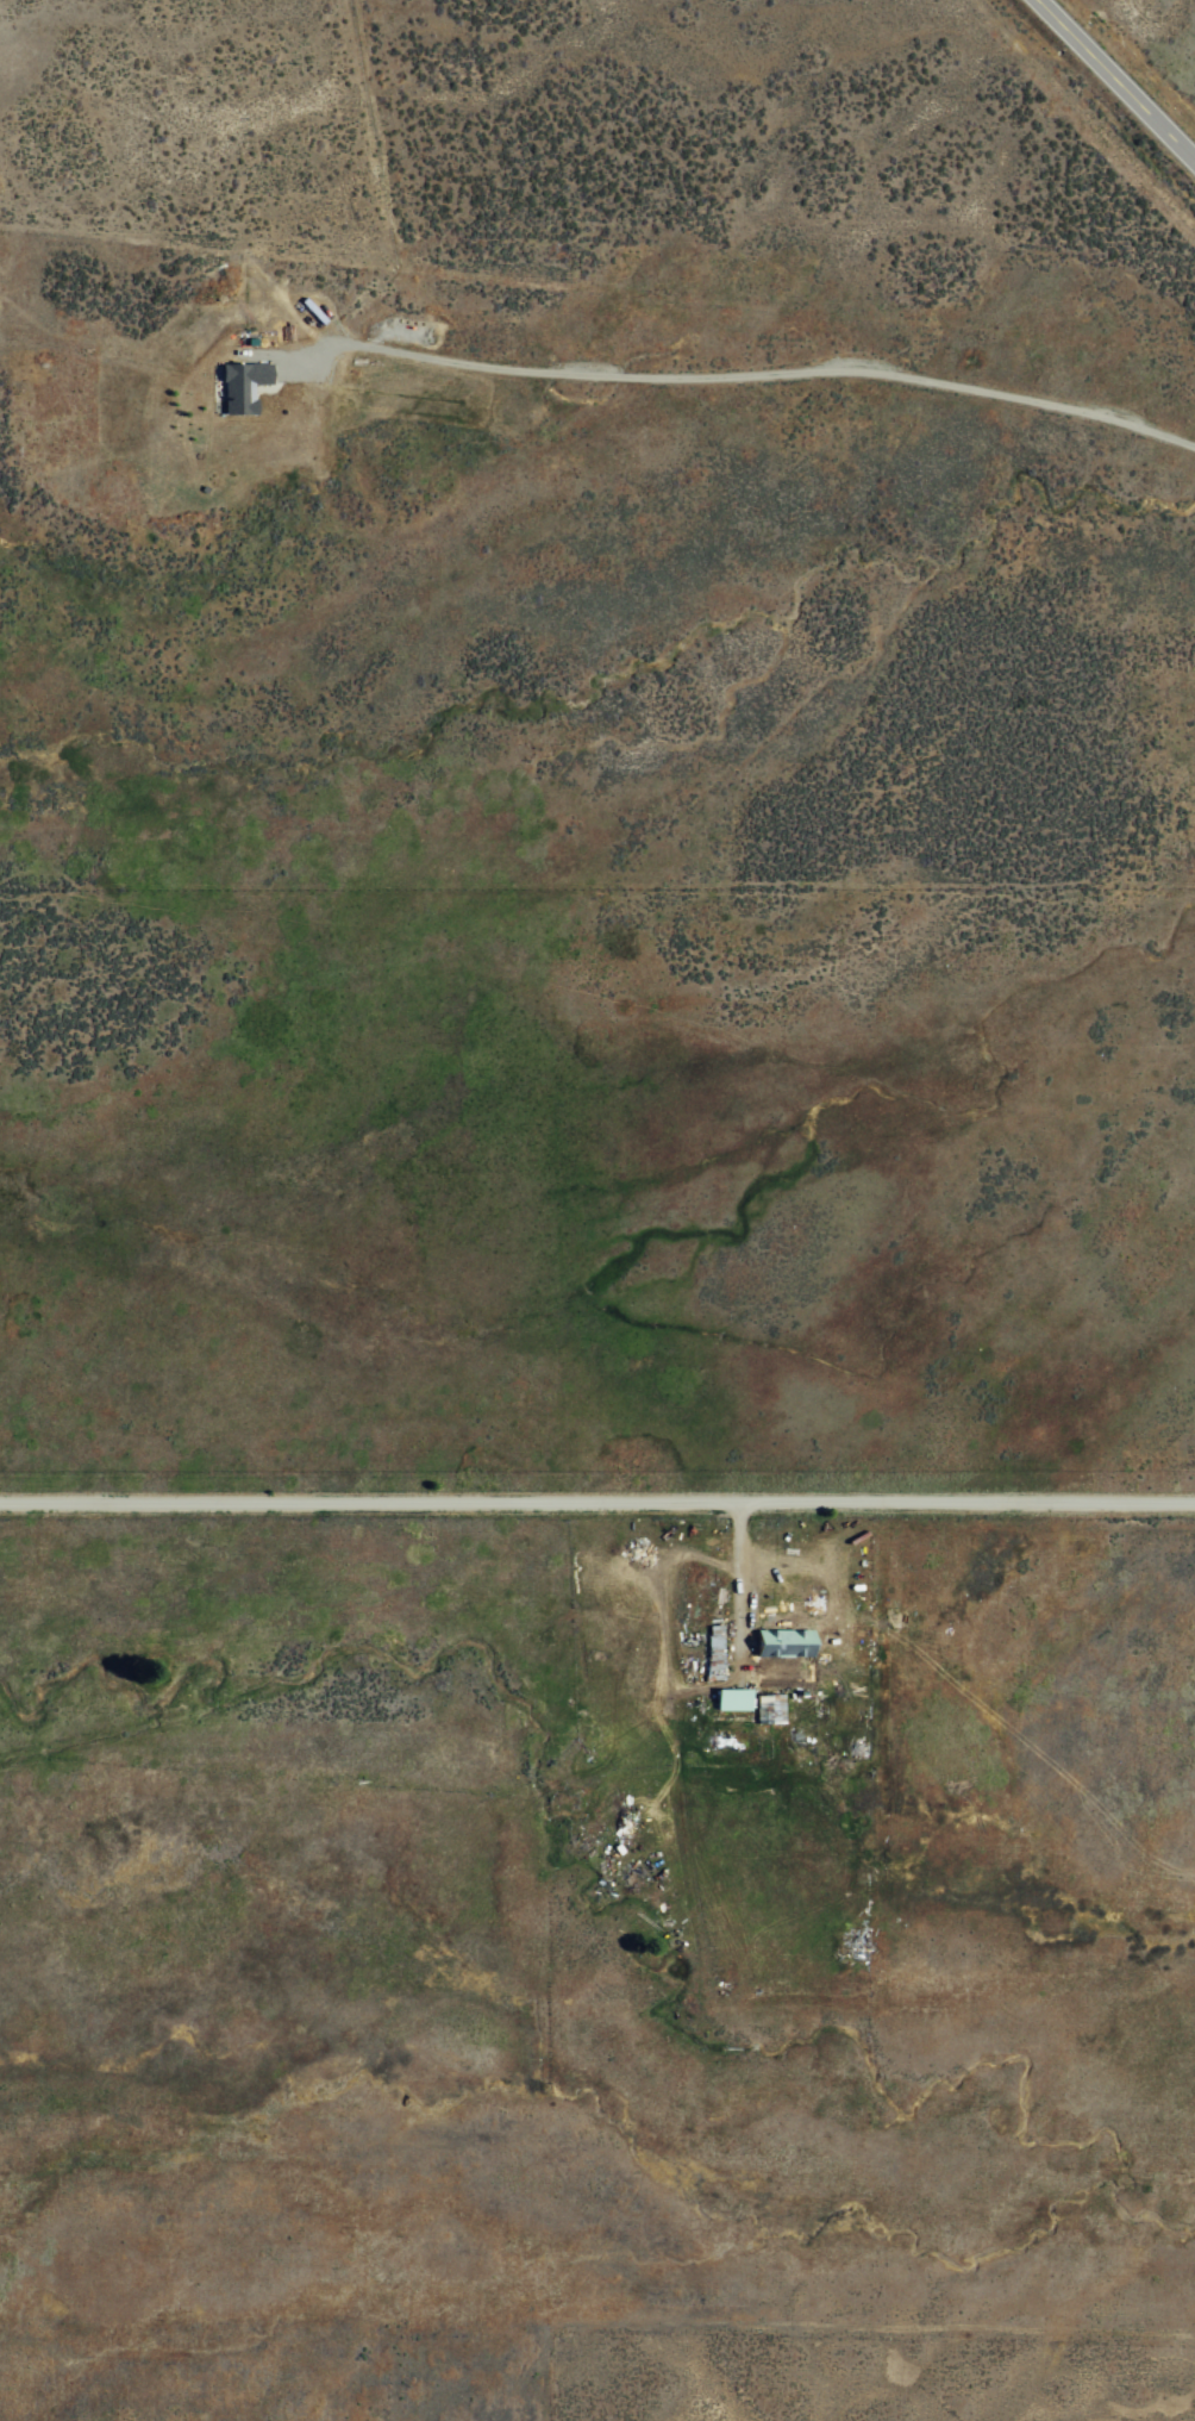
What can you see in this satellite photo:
crop: (1120, 74)
road: (1095, 101)
building: (242, 386)
road: (597, 1500)
road: (734, 1584)
crop: (597, 1659)

